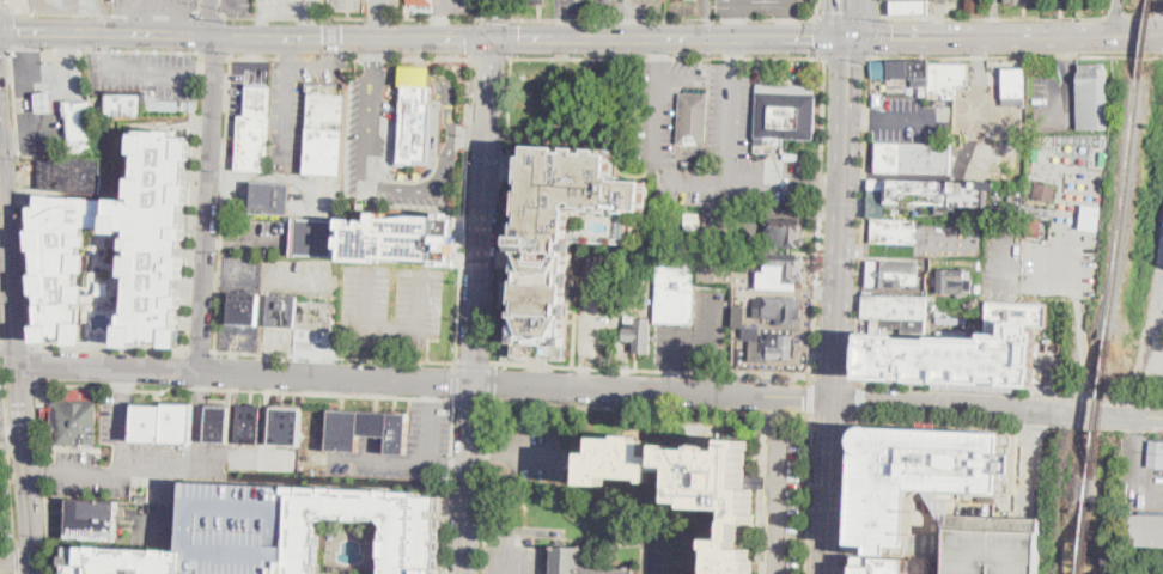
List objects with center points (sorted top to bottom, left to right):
road: (2, 0)
building: (653, 0)
road: (1, 1)
building: (420, 1)
building: (530, 1)
building: (1022, 1)
parking lot: (345, 4)
road: (451, 4)
parking lot: (62, 5)
parking lot: (153, 5)
road: (382, 5)
road: (55, 6)
road: (197, 6)
parking lot: (383, 6)
parking lot: (452, 6)
building: (908, 6)
parking lot: (287, 7)
parking lot: (765, 7)
road: (820, 7)
road: (154, 8)
road: (483, 8)
road: (513, 8)
road: (736, 8)
road: (785, 8)
road: (291, 10)
road: (883, 10)
road: (1145, 10)
traffic signals: (835, 11)
road: (97, 13)
road: (209, 13)
road: (1115, 14)
road: (98, 16)
road: (353, 17)
road: (851, 17)
road: (993, 17)
road: (498, 18)
road: (666, 18)
road: (1119, 18)
road: (495, 19)
road: (836, 19)
road: (855, 19)
road: (997, 19)
road: (142, 20)
road: (439, 20)
road: (179, 22)
road: (261, 23)
road: (308, 24)
road: (380, 24)
road: (7, 26)
road: (736, 28)
road: (784, 28)
road: (37, 31)
road: (238, 36)
road: (475, 36)
road: (511, 37)
road: (658, 37)
road: (788, 37)
traffic signals: (812, 37)
road: (877, 37)
road: (446, 38)
traffic signals: (493, 38)
road: (538, 38)
road: (818, 38)
road: (1004, 38)
railway: (1143, 38)
traffic signals: (894, 39)
road: (732, 47)
road: (5, 48)
road: (656, 48)
road: (104, 49)
road: (288, 51)
road: (328, 51)
road: (215, 53)
road: (1067, 53)
road: (1016, 55)
road: (351, 56)
road: (491, 56)
road: (666, 56)
road: (372, 57)
road: (845, 57)
traffic signals: (850, 62)
road: (978, 62)
road: (139, 68)
parking lot: (145, 71)
building: (925, 74)
road: (676, 78)
parking lot: (244, 79)
building: (1013, 83)
road: (286, 90)
road: (1064, 94)
parking lot: (1053, 97)
building: (1091, 97)
building: (45, 100)
gas station: (45, 100)
building: (124, 103)
parking lot: (296, 104)
road: (657, 110)
building: (784, 114)
building: (415, 116)
road: (860, 116)
road: (905, 117)
building: (693, 120)
road: (731, 120)
parking lot: (903, 120)
building: (79, 124)
building: (254, 128)
building: (325, 128)
road: (970, 130)
parking lot: (987, 134)
parking lot: (369, 136)
parking lot: (711, 136)
road: (469, 138)
building: (913, 158)
road: (1, 159)
road: (432, 163)
road: (846, 164)
road: (509, 166)
building: (71, 173)
road: (905, 175)
road: (439, 177)
road: (731, 182)
road: (209, 185)
road: (829, 189)
building: (914, 193)
building: (1045, 193)
parking lot: (313, 194)
road: (19, 195)
building: (267, 195)
parking lot: (418, 199)
road: (193, 200)
road: (223, 202)
road: (463, 208)
road: (504, 208)
railway: (1122, 208)
road: (483, 209)
building: (1036, 210)
road: (4, 219)
road: (818, 219)
road: (860, 220)
building: (893, 231)
building: (784, 232)
parking lot: (269, 233)
road: (8, 236)
building: (312, 237)
building: (398, 237)
parking lot: (949, 237)
building: (574, 238)
parking garage: (574, 238)
road: (878, 246)
road: (946, 249)
building: (116, 252)
parking lot: (1004, 261)
parking lot: (1058, 265)
building: (784, 267)
building: (706, 269)
building: (891, 274)
parking lot: (279, 275)
parking lot: (738, 277)
building: (952, 281)
building: (675, 285)
road: (193, 286)
road: (814, 291)
parking lot: (114, 293)
parking lot: (392, 304)
parking lot: (597, 307)
building: (895, 307)
building: (245, 309)
building: (779, 309)
building: (299, 312)
building: (739, 315)
parking lot: (1149, 315)
road: (394, 324)
road: (713, 332)
building: (639, 335)
parking lot: (239, 336)
parking lot: (695, 336)
parking lot: (276, 340)
road: (108, 346)
road: (838, 346)
building: (780, 347)
road: (672, 348)
road: (1080, 349)
road: (200, 350)
road: (101, 352)
road: (388, 352)
road: (8, 354)
road: (334, 355)
building: (957, 358)
road: (0, 361)
road: (32, 362)
road: (475, 362)
road: (0, 370)
road: (653, 371)
road: (244, 373)
road: (833, 377)
road: (672, 379)
road: (455, 380)
road: (712, 380)
road: (493, 381)
road: (1009, 387)
road: (625, 389)
road: (331, 392)
road: (811, 397)
road: (857, 397)
road: (804, 398)
road: (473, 399)
traffic signals: (835, 399)
railway: (1100, 407)
road: (651, 408)
road: (998, 409)
road: (200, 414)
road: (773, 414)
road: (832, 416)
road: (939, 420)
building: (74, 421)
building: (164, 423)
building: (219, 425)
building: (249, 425)
parking lot: (430, 426)
building: (286, 427)
building: (366, 429)
parking lot: (0, 441)
parking lot: (535, 452)
building: (1155, 452)
road: (516, 453)
road: (8, 456)
parking lot: (154, 459)
road: (24, 464)
road: (1030, 465)
road: (425, 466)
road: (451, 466)
road: (157, 470)
parking lot: (1140, 470)
road: (1140, 470)
road: (71, 474)
building: (925, 475)
road: (43, 476)
road: (469, 477)
building: (689, 484)
road: (830, 486)
road: (485, 488)
railway: (1091, 489)
road: (848, 491)
road: (809, 494)
road: (778, 502)
parking lot: (783, 503)
road: (171, 514)
building: (92, 520)
parking lot: (148, 524)
building: (238, 527)
parking garage: (238, 527)
road: (512, 529)
building: (1143, 529)
railway: (1085, 538)
building: (986, 543)
parking lot: (986, 543)
building: (410, 548)
parking lot: (514, 550)
road: (17, 558)
road: (17, 561)
building: (122, 561)
building: (657, 562)
building: (580, 563)
building: (867, 564)
parking lot: (1143, 573)

